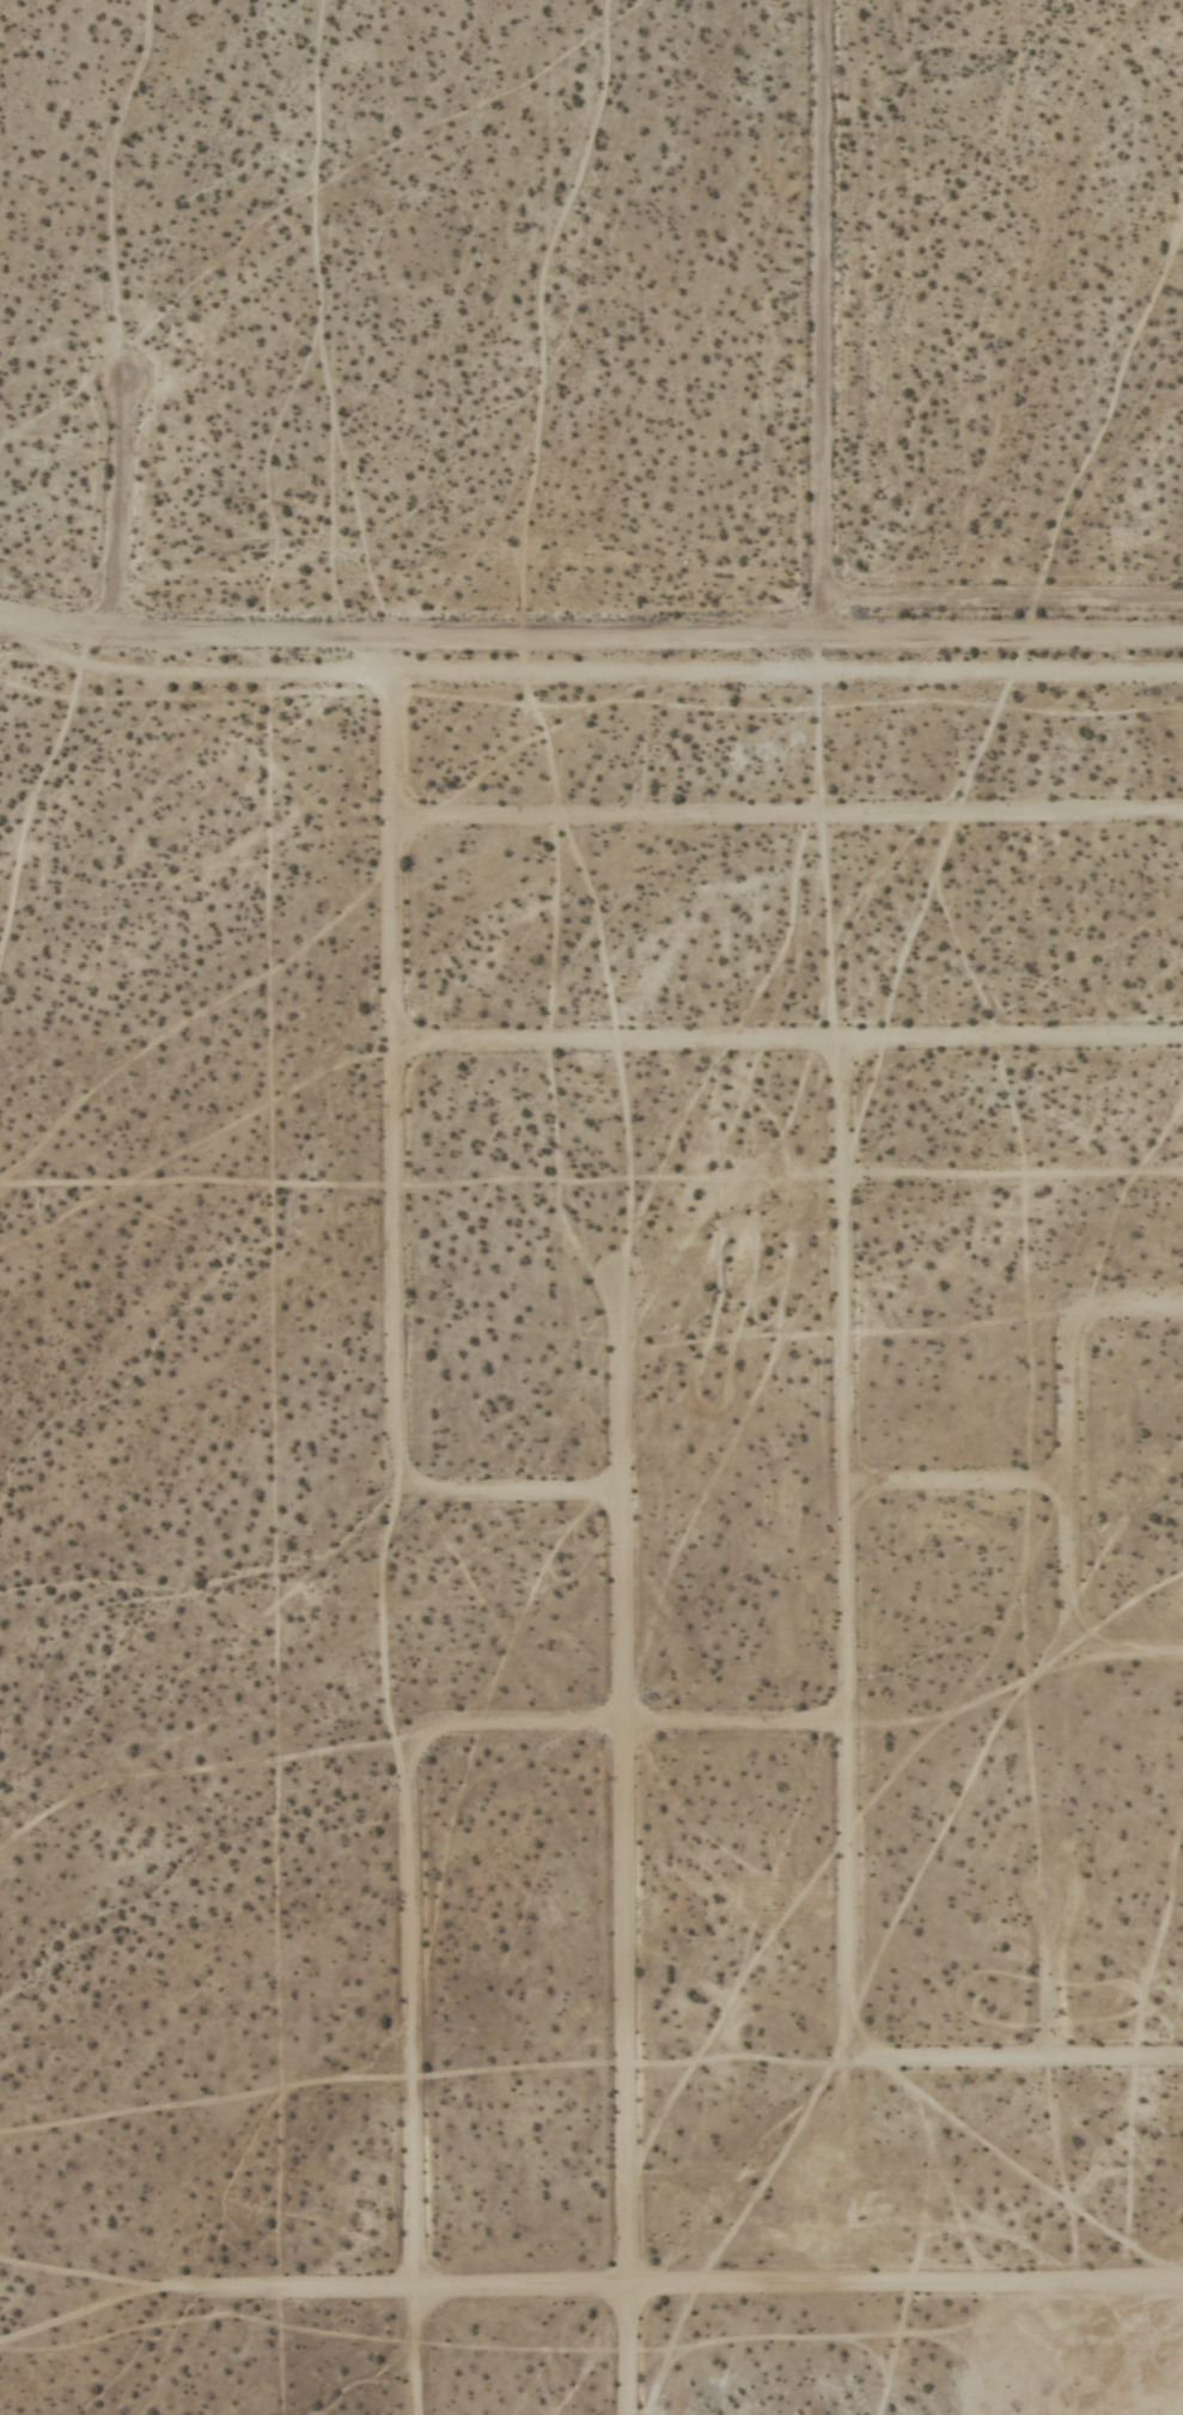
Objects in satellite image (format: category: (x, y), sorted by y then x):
road: (825, 336)
road: (120, 504)
road: (591, 627)
road: (591, 674)
road: (789, 822)
road: (791, 1047)
road: (1067, 1485)
road: (957, 1489)
road: (510, 1498)
road: (390, 1525)
crop: (762, 1541)
road: (848, 1559)
road: (616, 1729)
road: (624, 1850)
road: (1044, 1987)
road: (1025, 2067)
road: (737, 2292)

